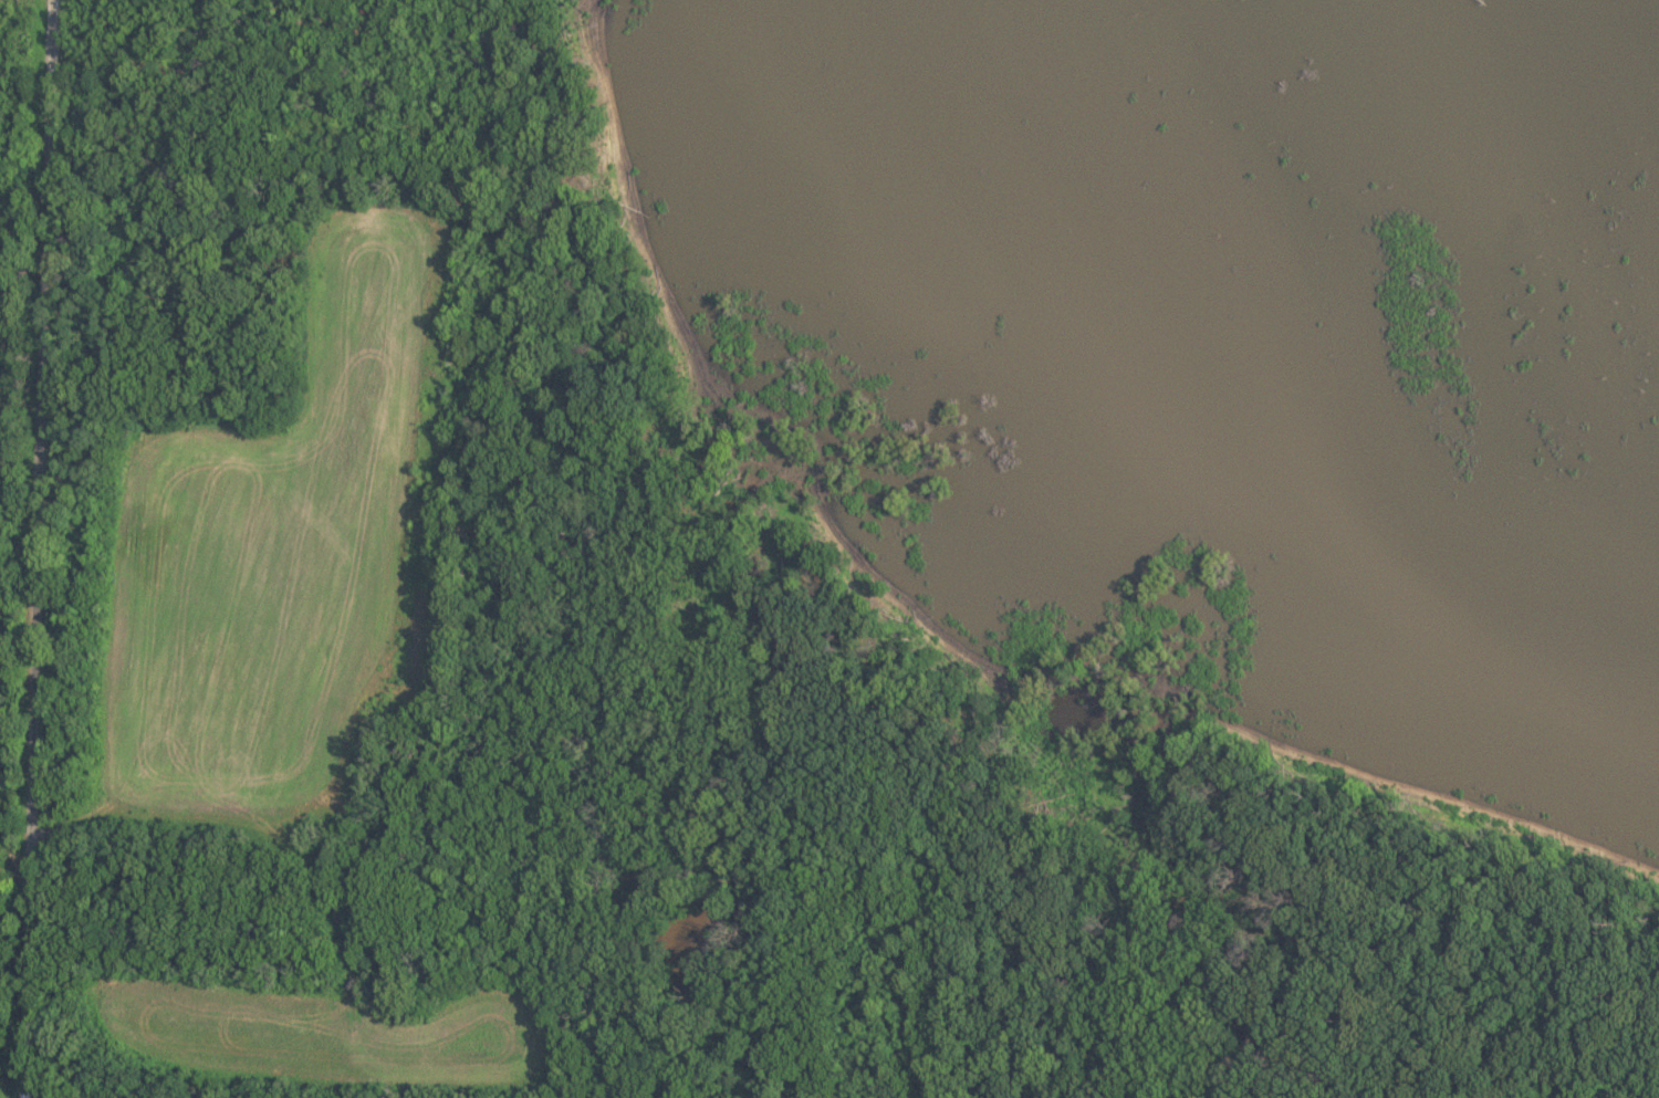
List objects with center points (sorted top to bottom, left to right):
road: (34, 548)

